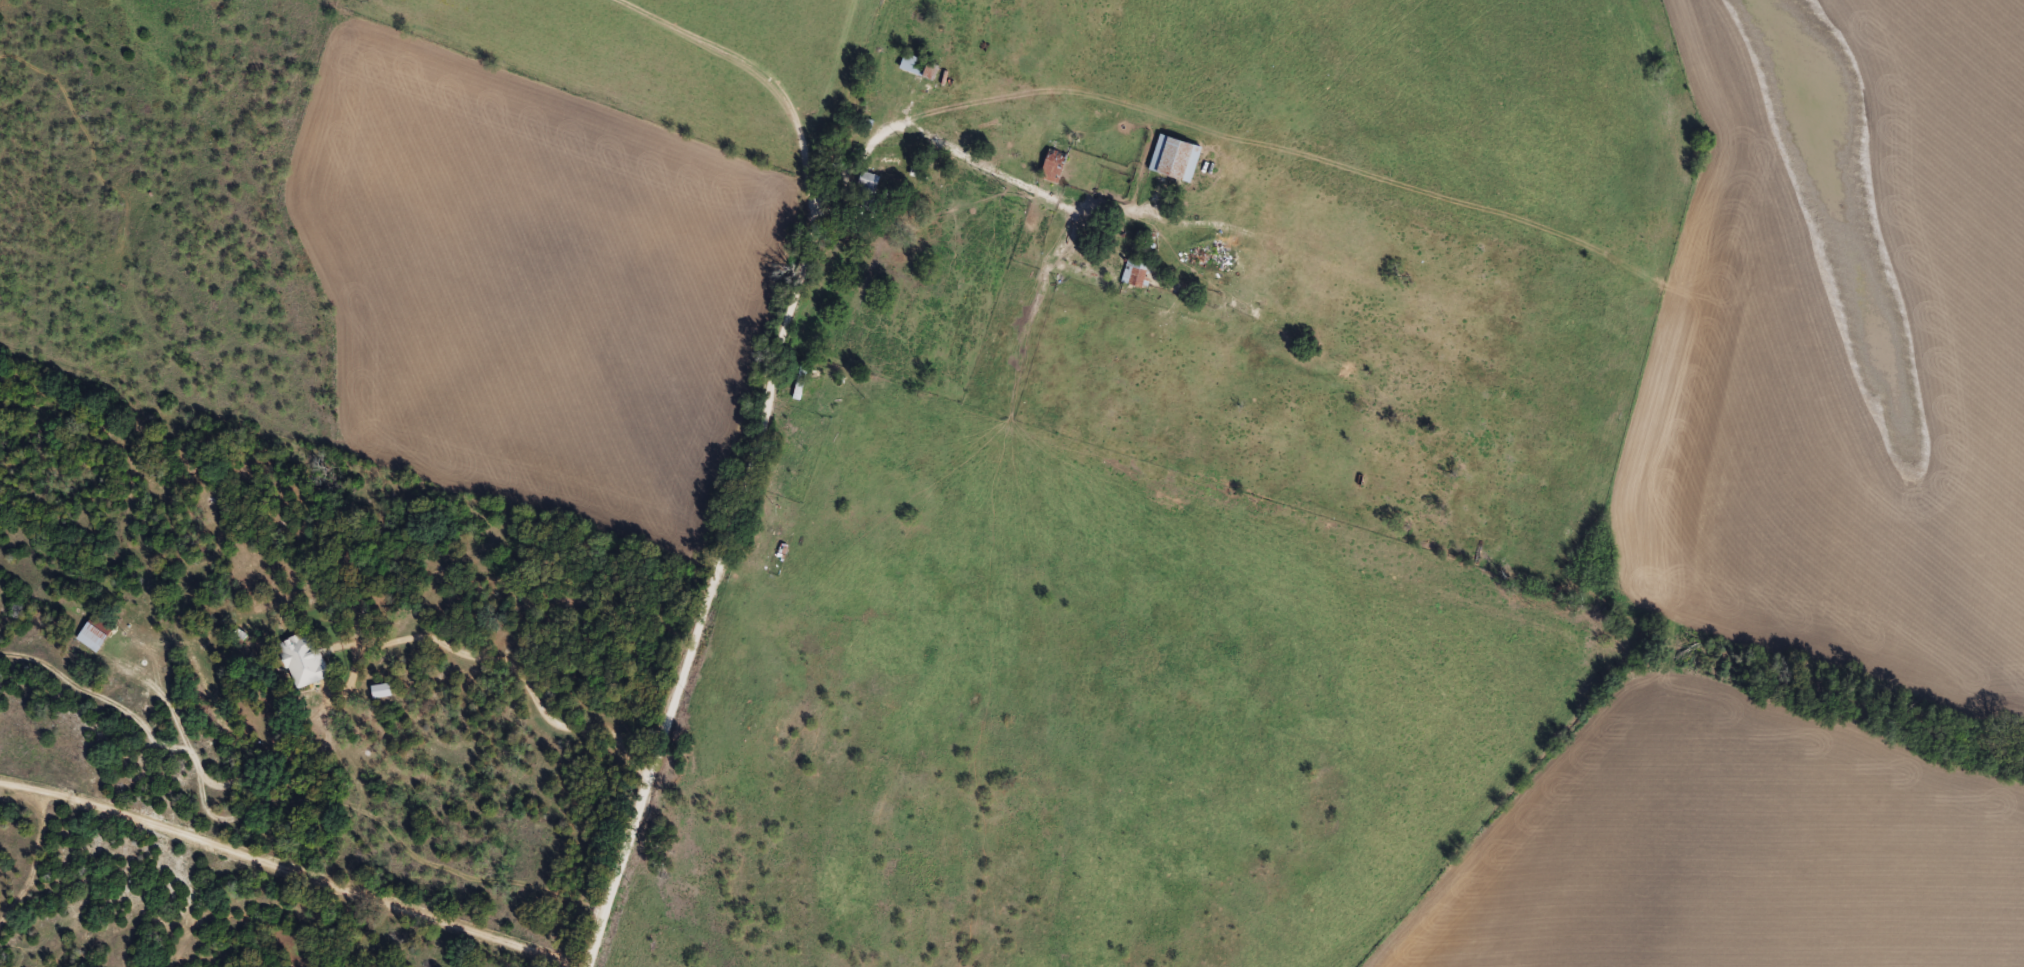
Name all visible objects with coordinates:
building: (920, 68)
building: (1095, 123)
building: (1176, 161)
building: (1055, 167)
road: (872, 181)
building: (869, 195)
building: (1138, 276)
building: (802, 382)
building: (769, 532)
building: (93, 638)
building: (305, 660)
road: (719, 665)

